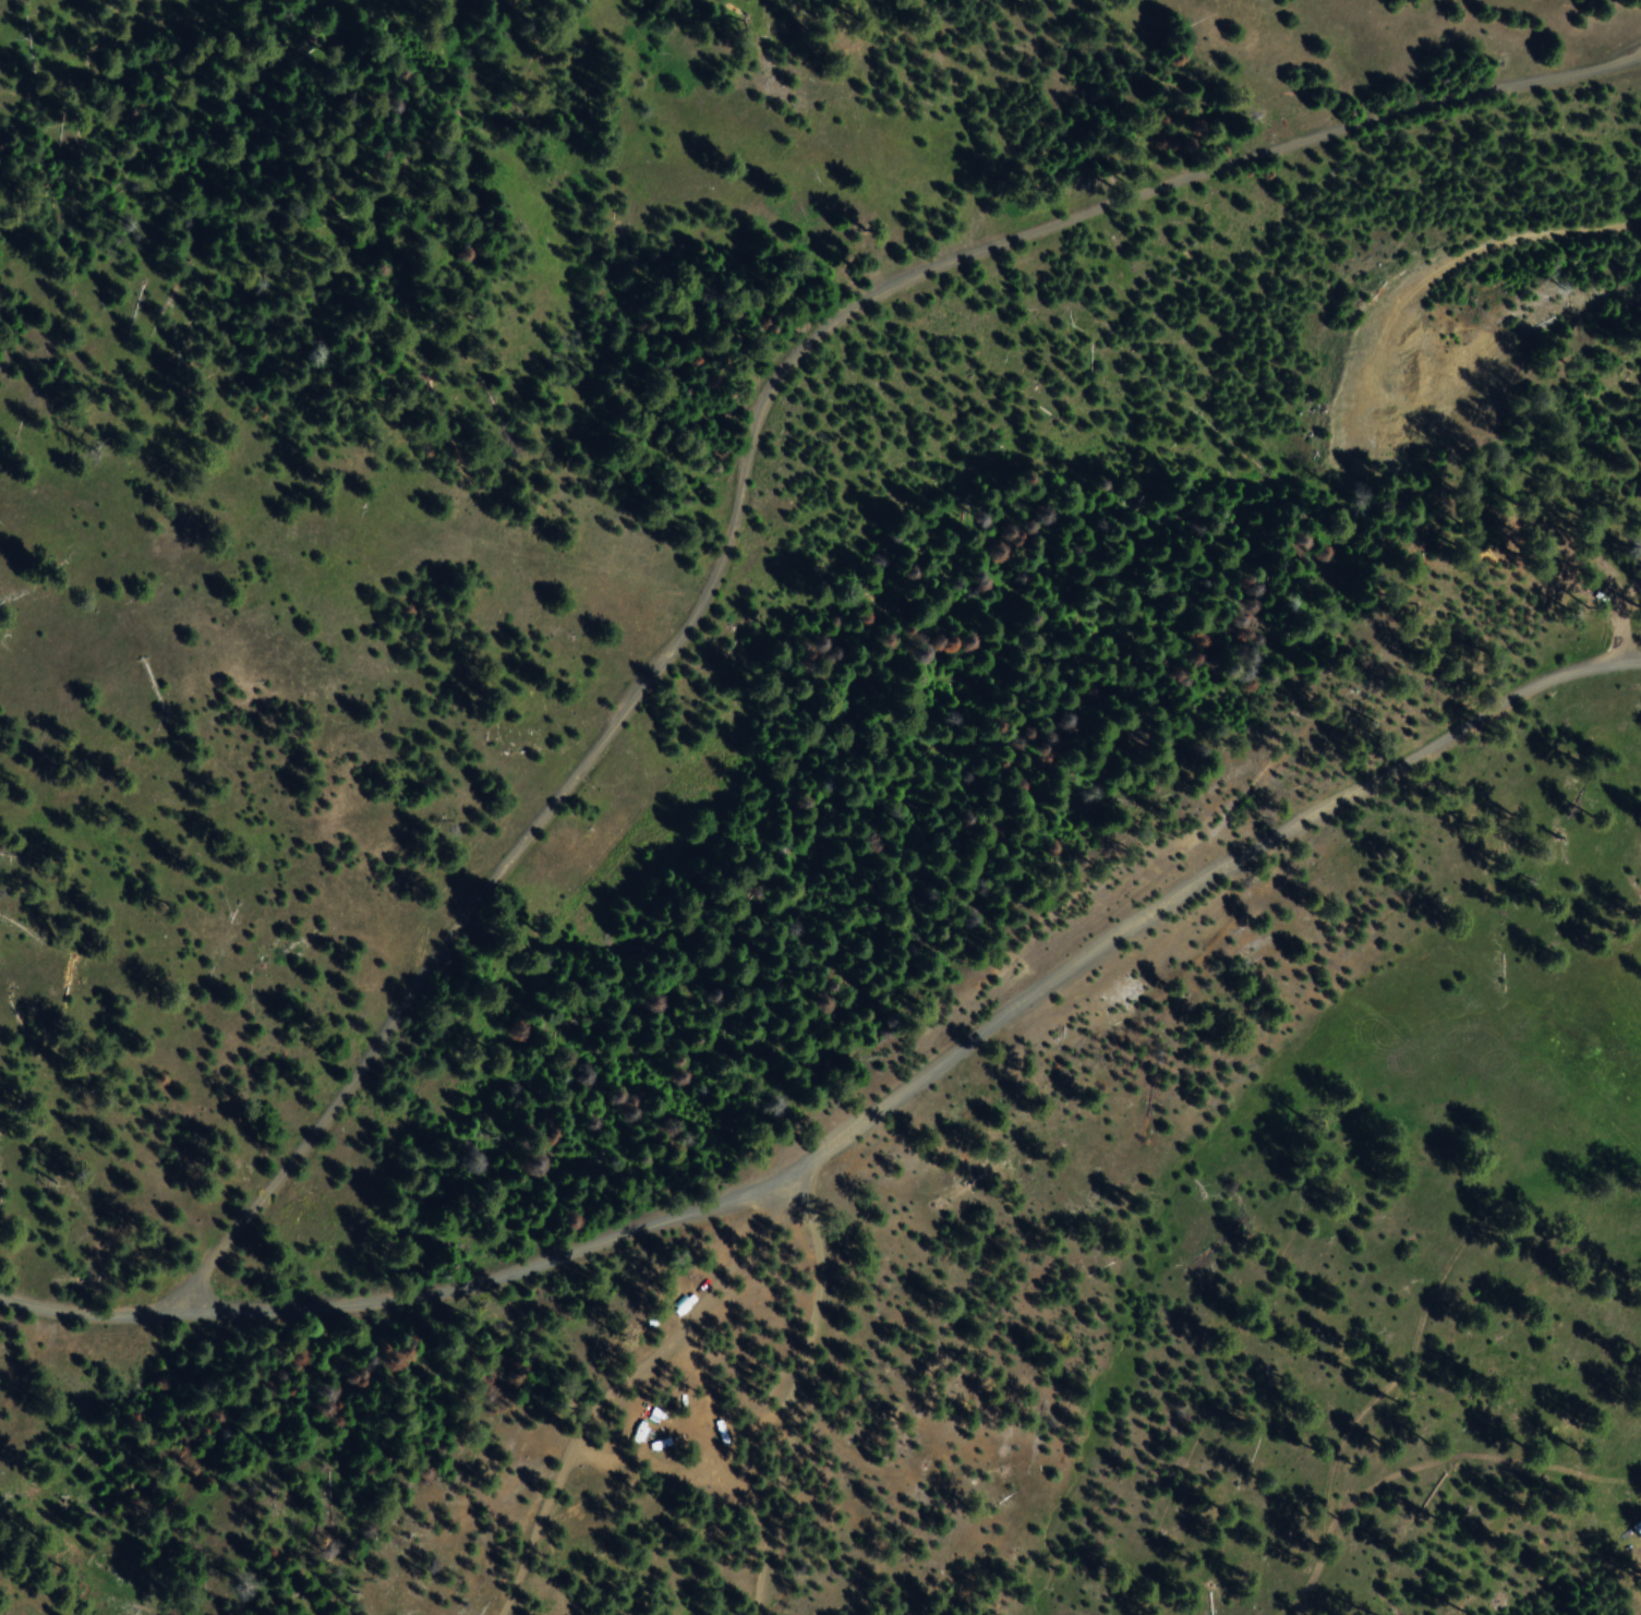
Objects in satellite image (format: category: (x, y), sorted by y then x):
road: (760, 480)
building: (1566, 583)
road: (1616, 605)
road: (866, 1121)
road: (786, 1198)
building: (1631, 1536)

